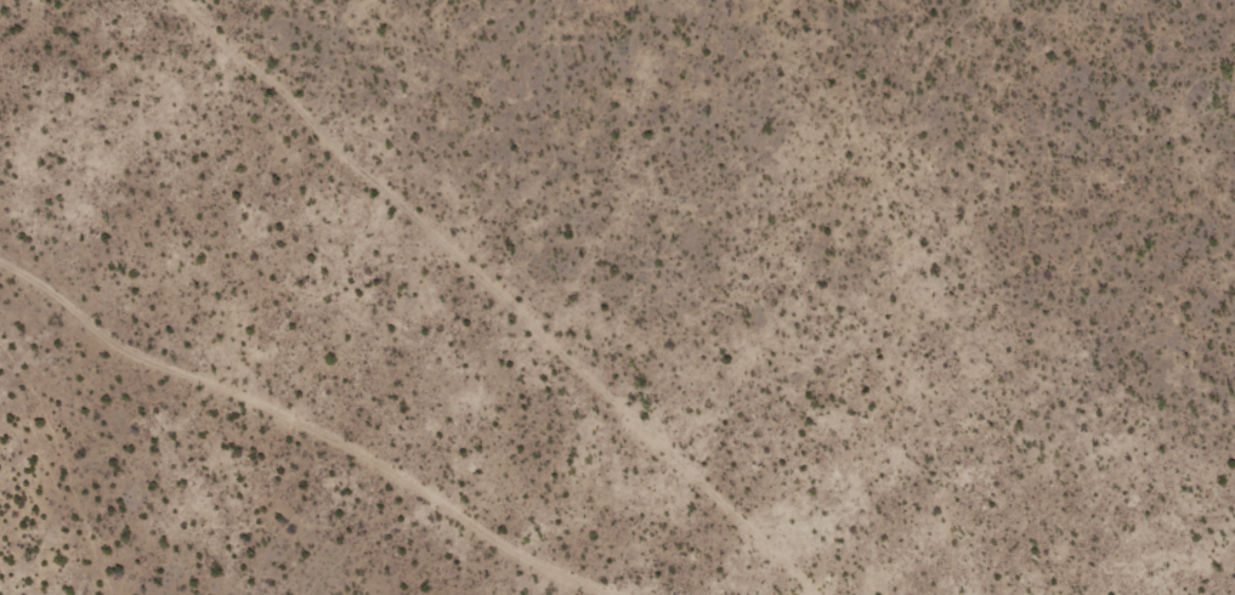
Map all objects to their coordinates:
road: (283, 438)

